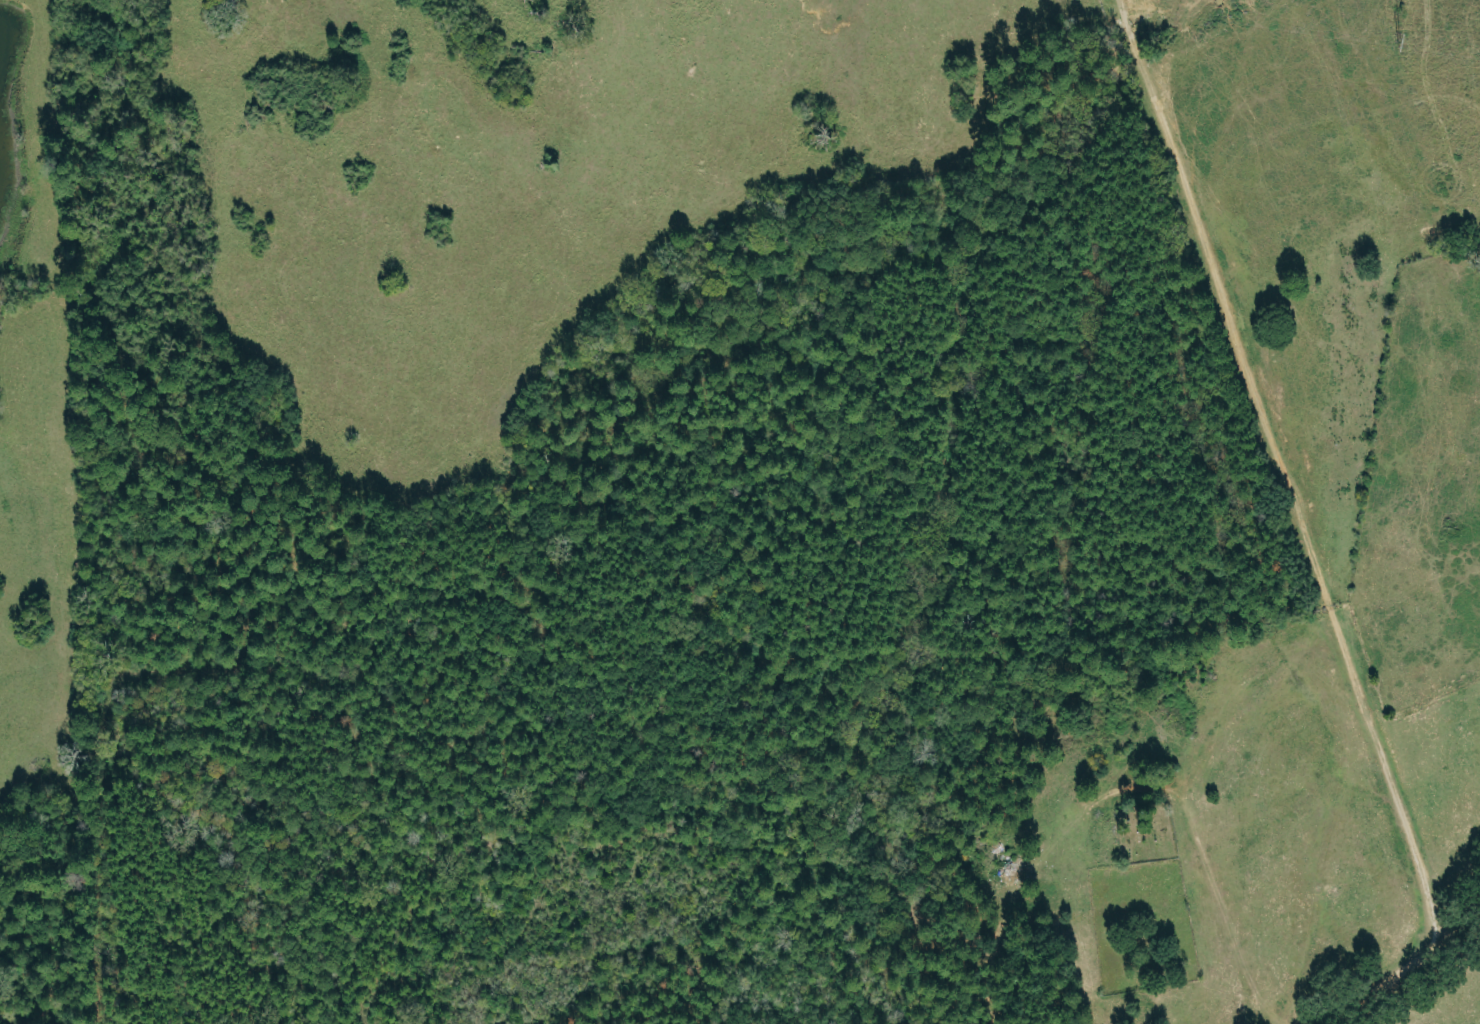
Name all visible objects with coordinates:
power tower: (1398, 42)
road: (1224, 318)
road: (1410, 848)
park: (1143, 900)
road: (1444, 940)

